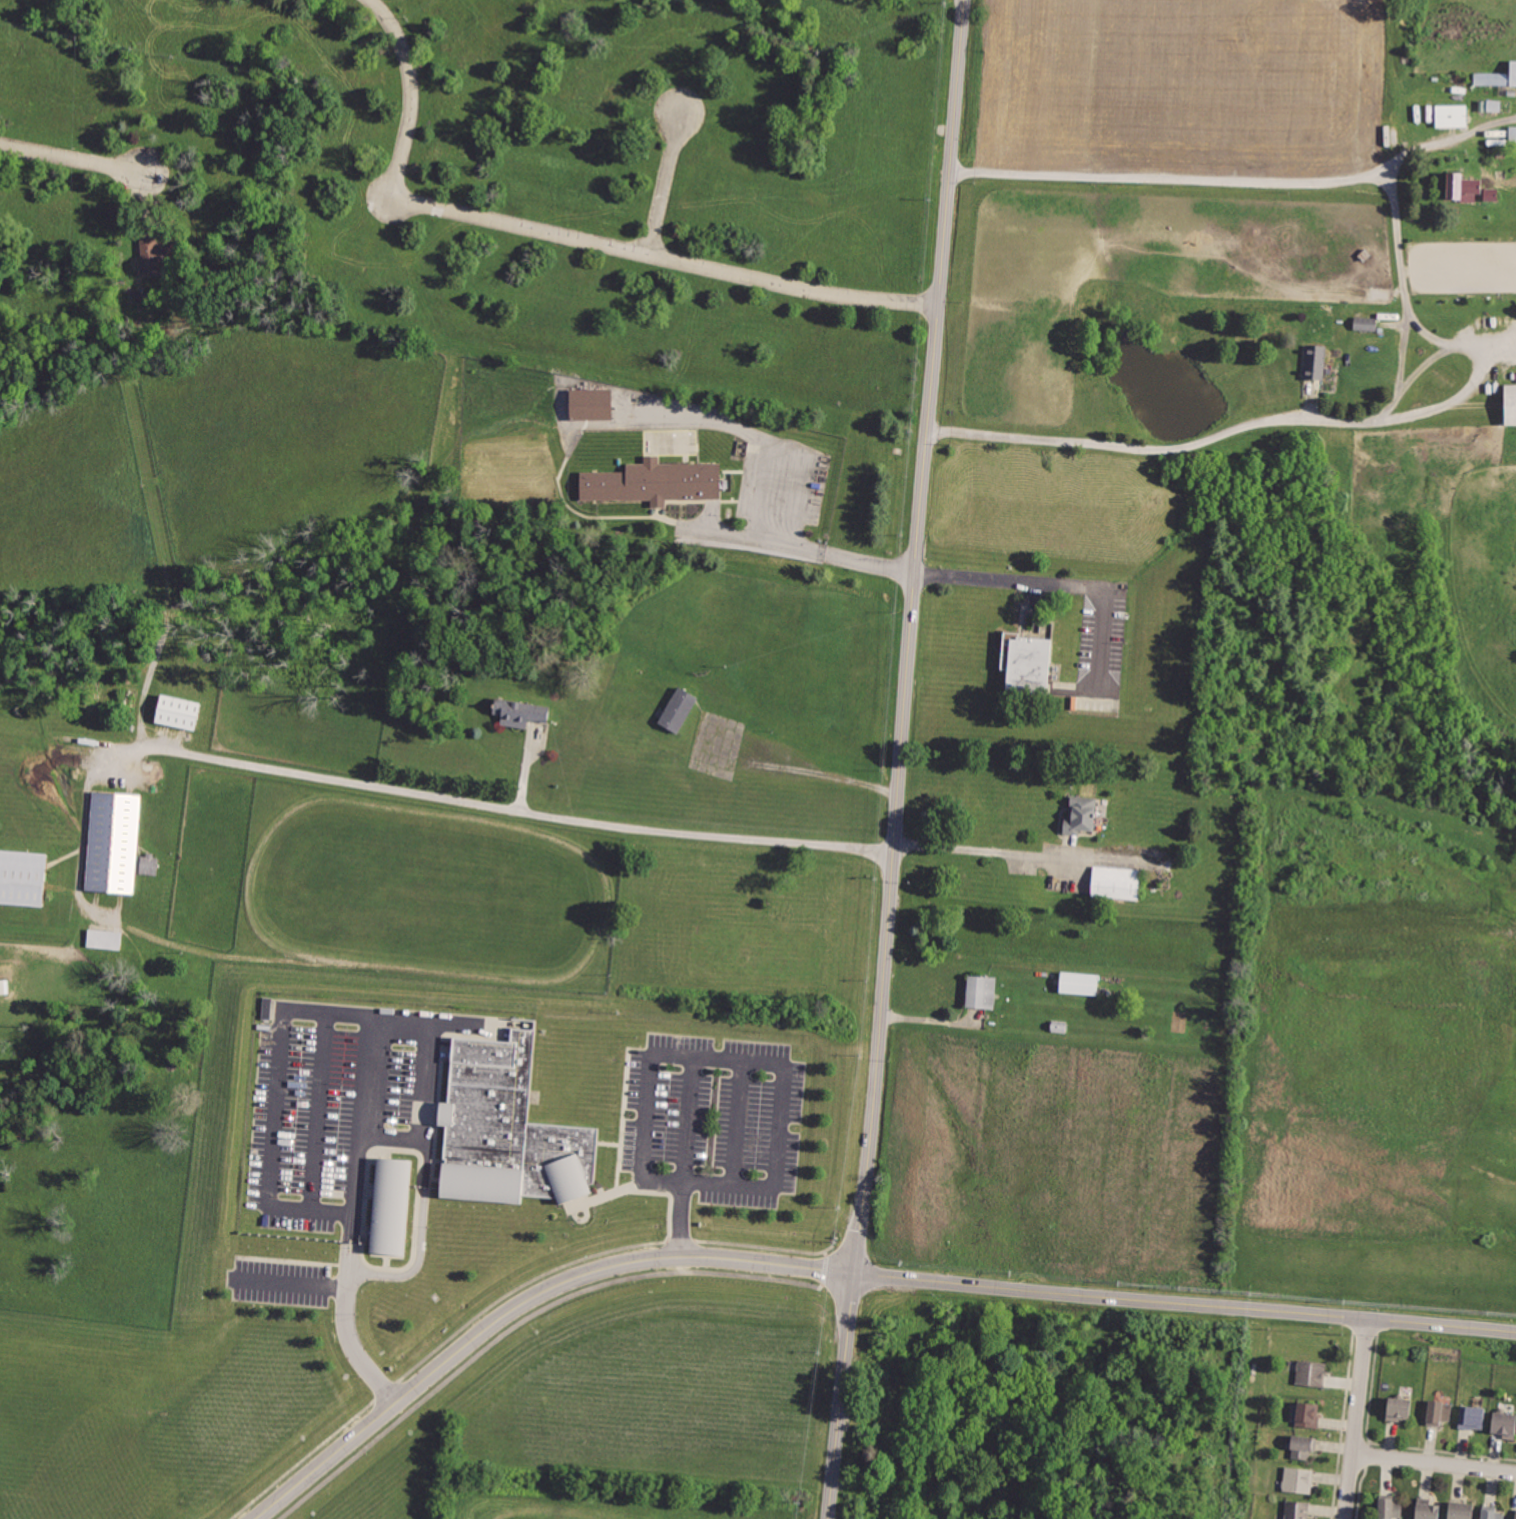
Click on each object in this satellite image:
building: (1512, 73)
building: (1491, 80)
building: (1493, 104)
building: (1451, 115)
road: (74, 160)
road: (665, 182)
road: (1216, 183)
building: (1452, 186)
building: (1469, 191)
building: (1490, 193)
road: (557, 234)
building: (156, 254)
crop: (1234, 285)
road: (1408, 299)
building: (1365, 323)
building: (1315, 362)
building: (1509, 401)
building: (599, 406)
road: (1231, 429)
building: (663, 482)
road: (811, 551)
road: (1052, 582)
park: (701, 618)
park: (815, 664)
building: (1027, 664)
building: (186, 711)
building: (679, 711)
building: (523, 713)
road: (903, 759)
road: (529, 766)
road: (533, 811)
building: (1080, 818)
building: (122, 840)
road: (1003, 853)
building: (149, 863)
building: (27, 876)
building: (1116, 881)
building: (105, 938)
building: (1079, 985)
building: (4, 986)
building: (979, 993)
road: (377, 1013)
road: (936, 1020)
road: (707, 1058)
parking lot: (337, 1108)
parking lot: (711, 1117)
flagpole: (587, 1211)
flagpole: (577, 1215)
flagpole: (583, 1216)
building: (417, 1217)
road: (420, 1237)
road: (824, 1250)
road: (825, 1261)
road: (843, 1272)
road: (823, 1275)
parking lot: (281, 1281)
road: (293, 1284)
road: (494, 1301)
road: (521, 1319)
road: (350, 1344)
building: (1312, 1373)
park: (648, 1383)
park: (253, 1405)
building: (1397, 1409)
building: (1439, 1411)
building: (1308, 1412)
building: (1472, 1416)
road: (1357, 1418)
building: (1504, 1423)
building: (1303, 1445)
road: (1434, 1465)
building: (1299, 1480)
building: (1389, 1507)
building: (1297, 1509)
building: (1460, 1509)
building: (1426, 1510)
building: (1492, 1512)
building: (1514, 1514)

